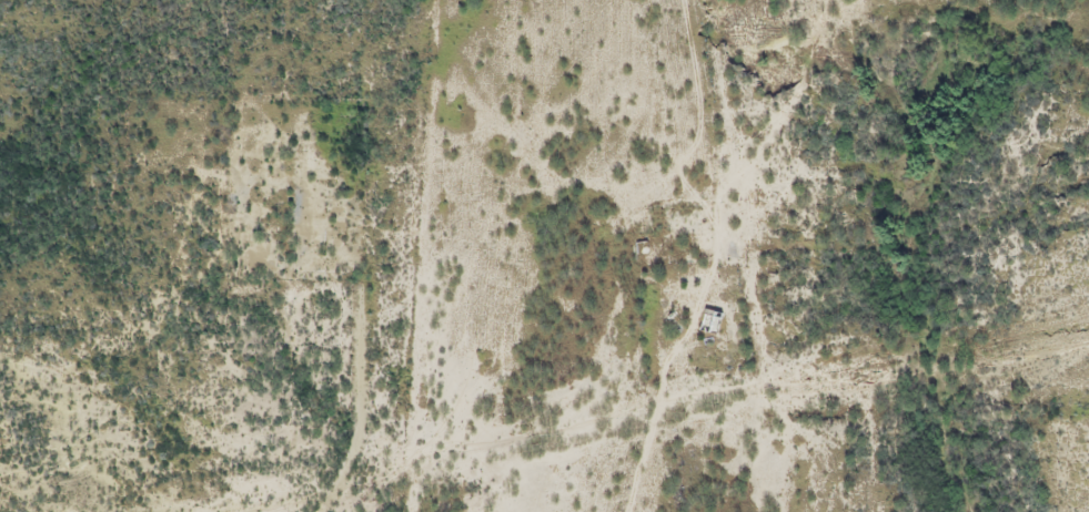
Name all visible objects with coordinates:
road: (654, 424)

